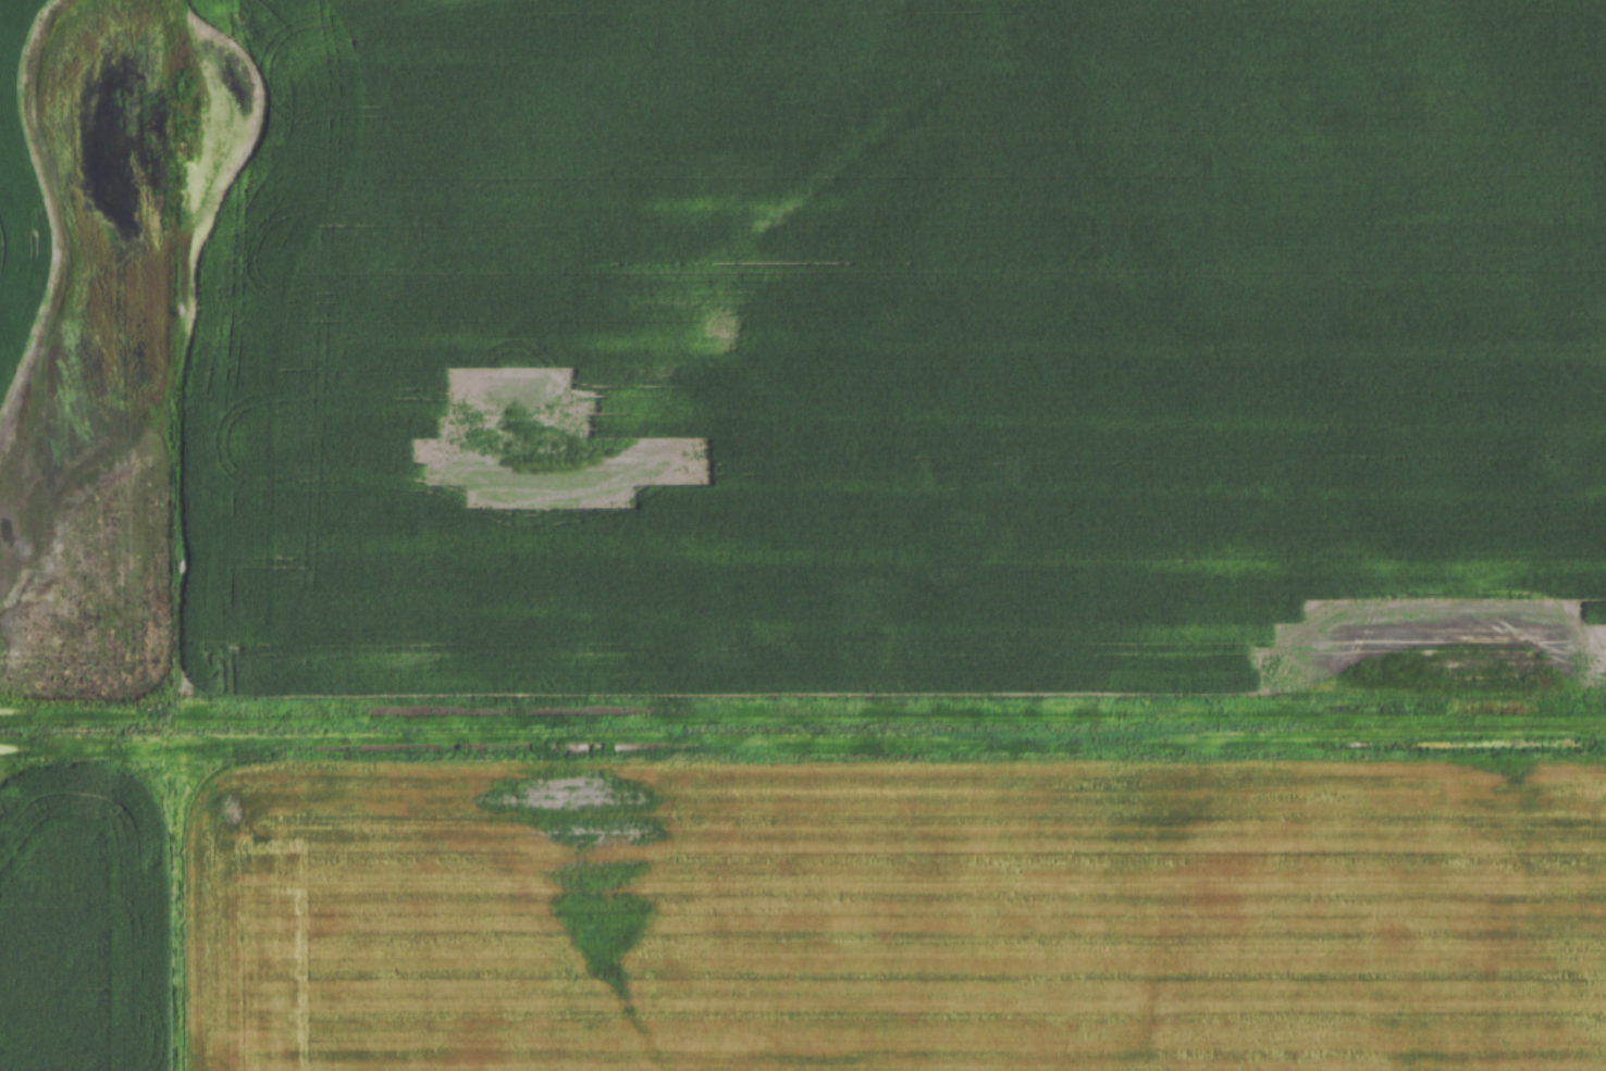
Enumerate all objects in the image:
road: (802, 748)

